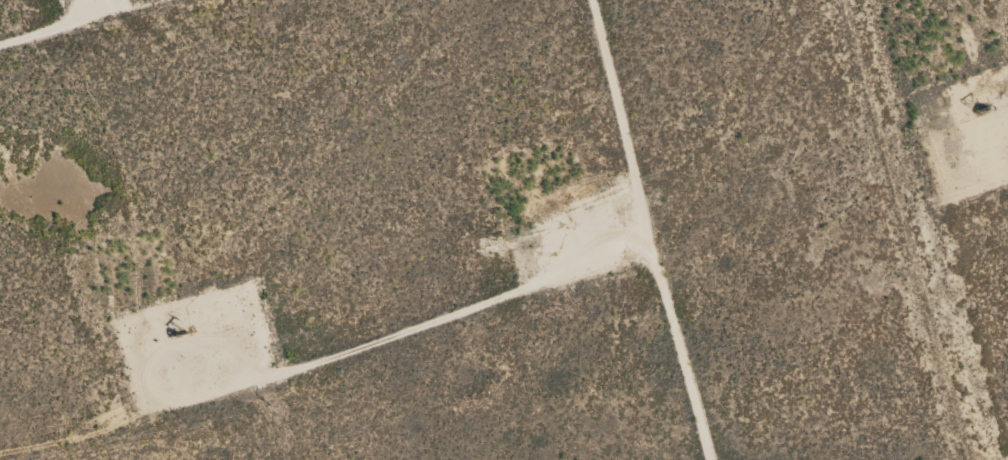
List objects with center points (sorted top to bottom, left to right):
road: (32, 37)

